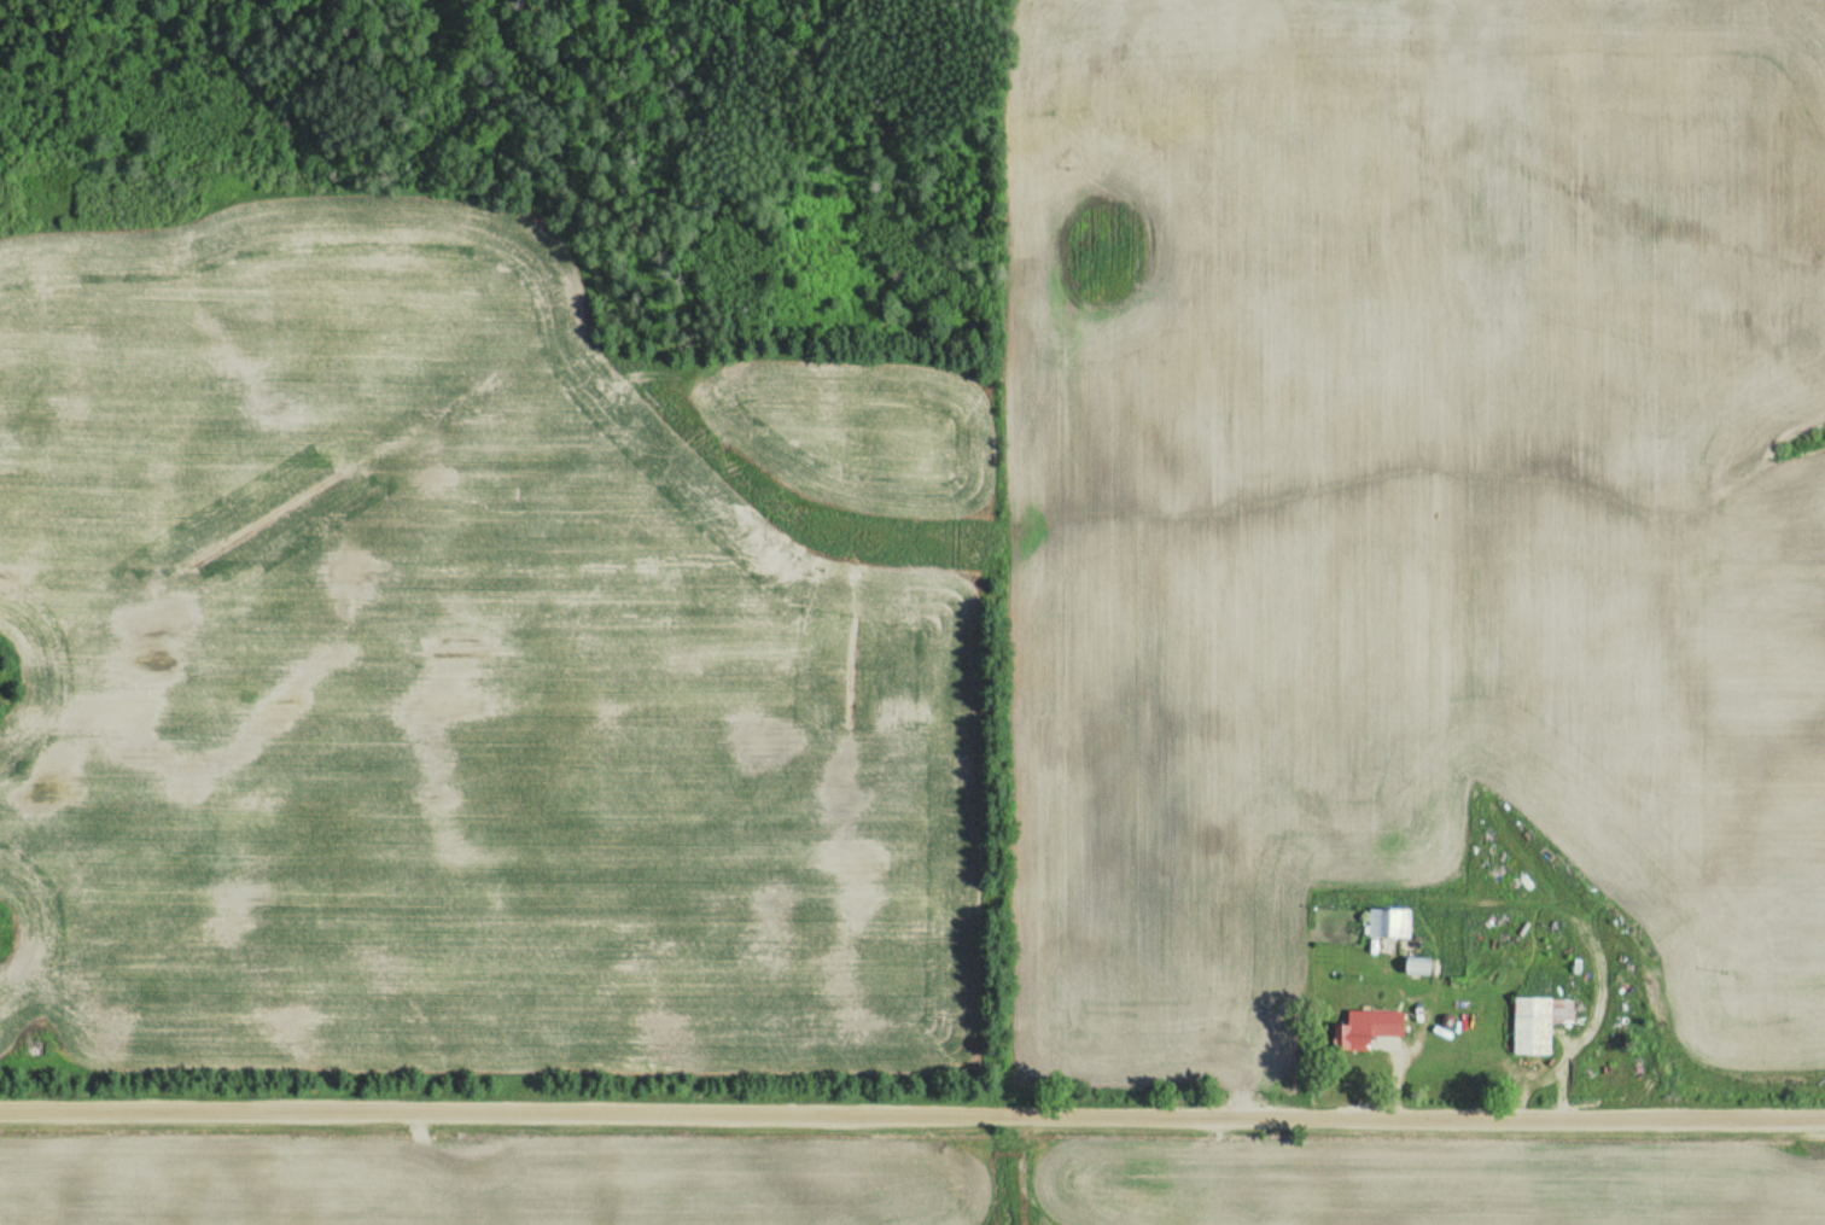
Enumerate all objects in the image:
building: (1387, 922)
building: (1413, 964)
building: (1535, 1021)
building: (1364, 1028)
road: (911, 1113)

